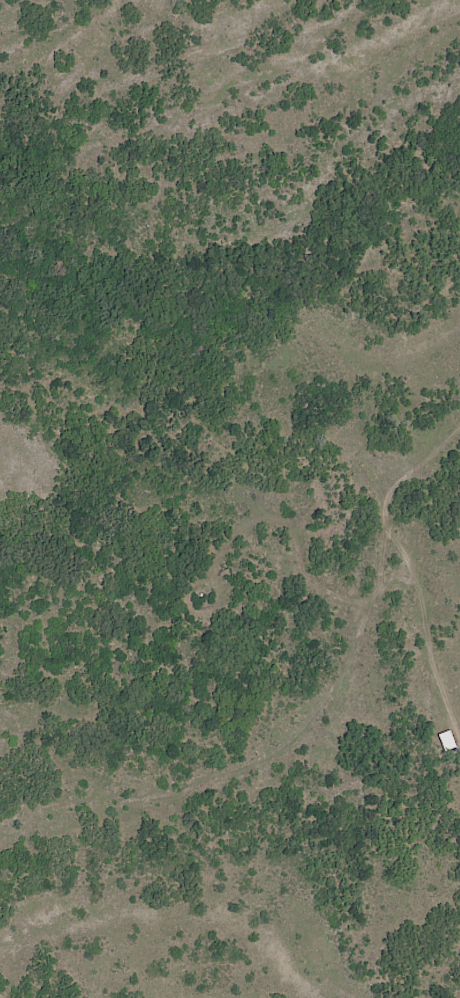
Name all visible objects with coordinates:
road: (11, 5)
road: (424, 545)

